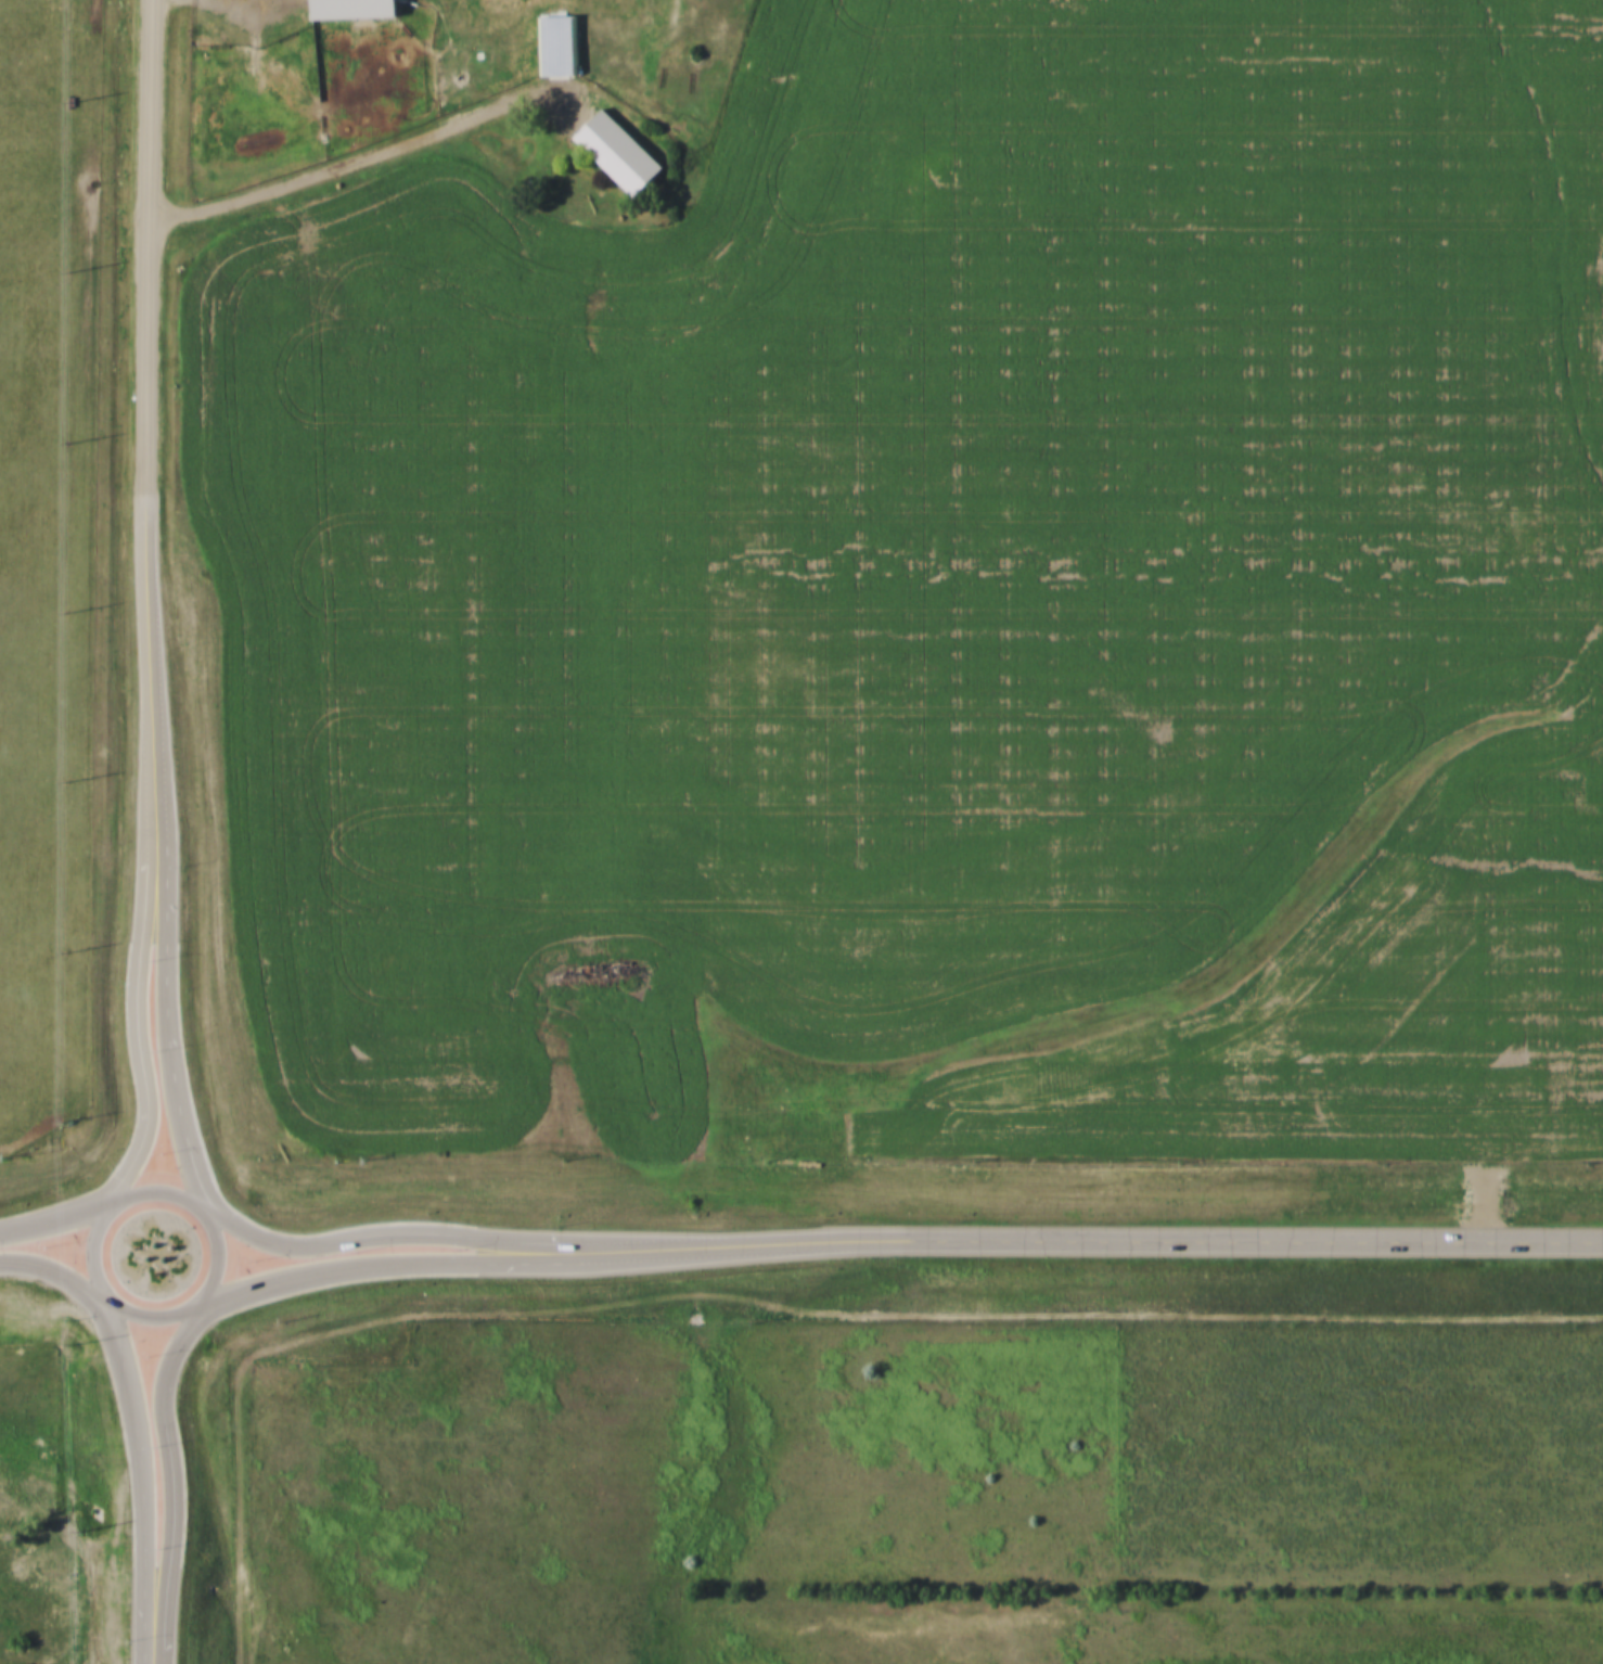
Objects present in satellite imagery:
building: (356, 8)
building: (559, 43)
road: (356, 148)
road: (146, 245)
road: (152, 686)
road: (167, 1046)
road: (140, 1048)
road: (1102, 1245)
road: (92, 1252)
road: (293, 1252)
road: (217, 1262)
road: (292, 1284)
road: (150, 1471)
road: (176, 1479)
road: (154, 1659)

